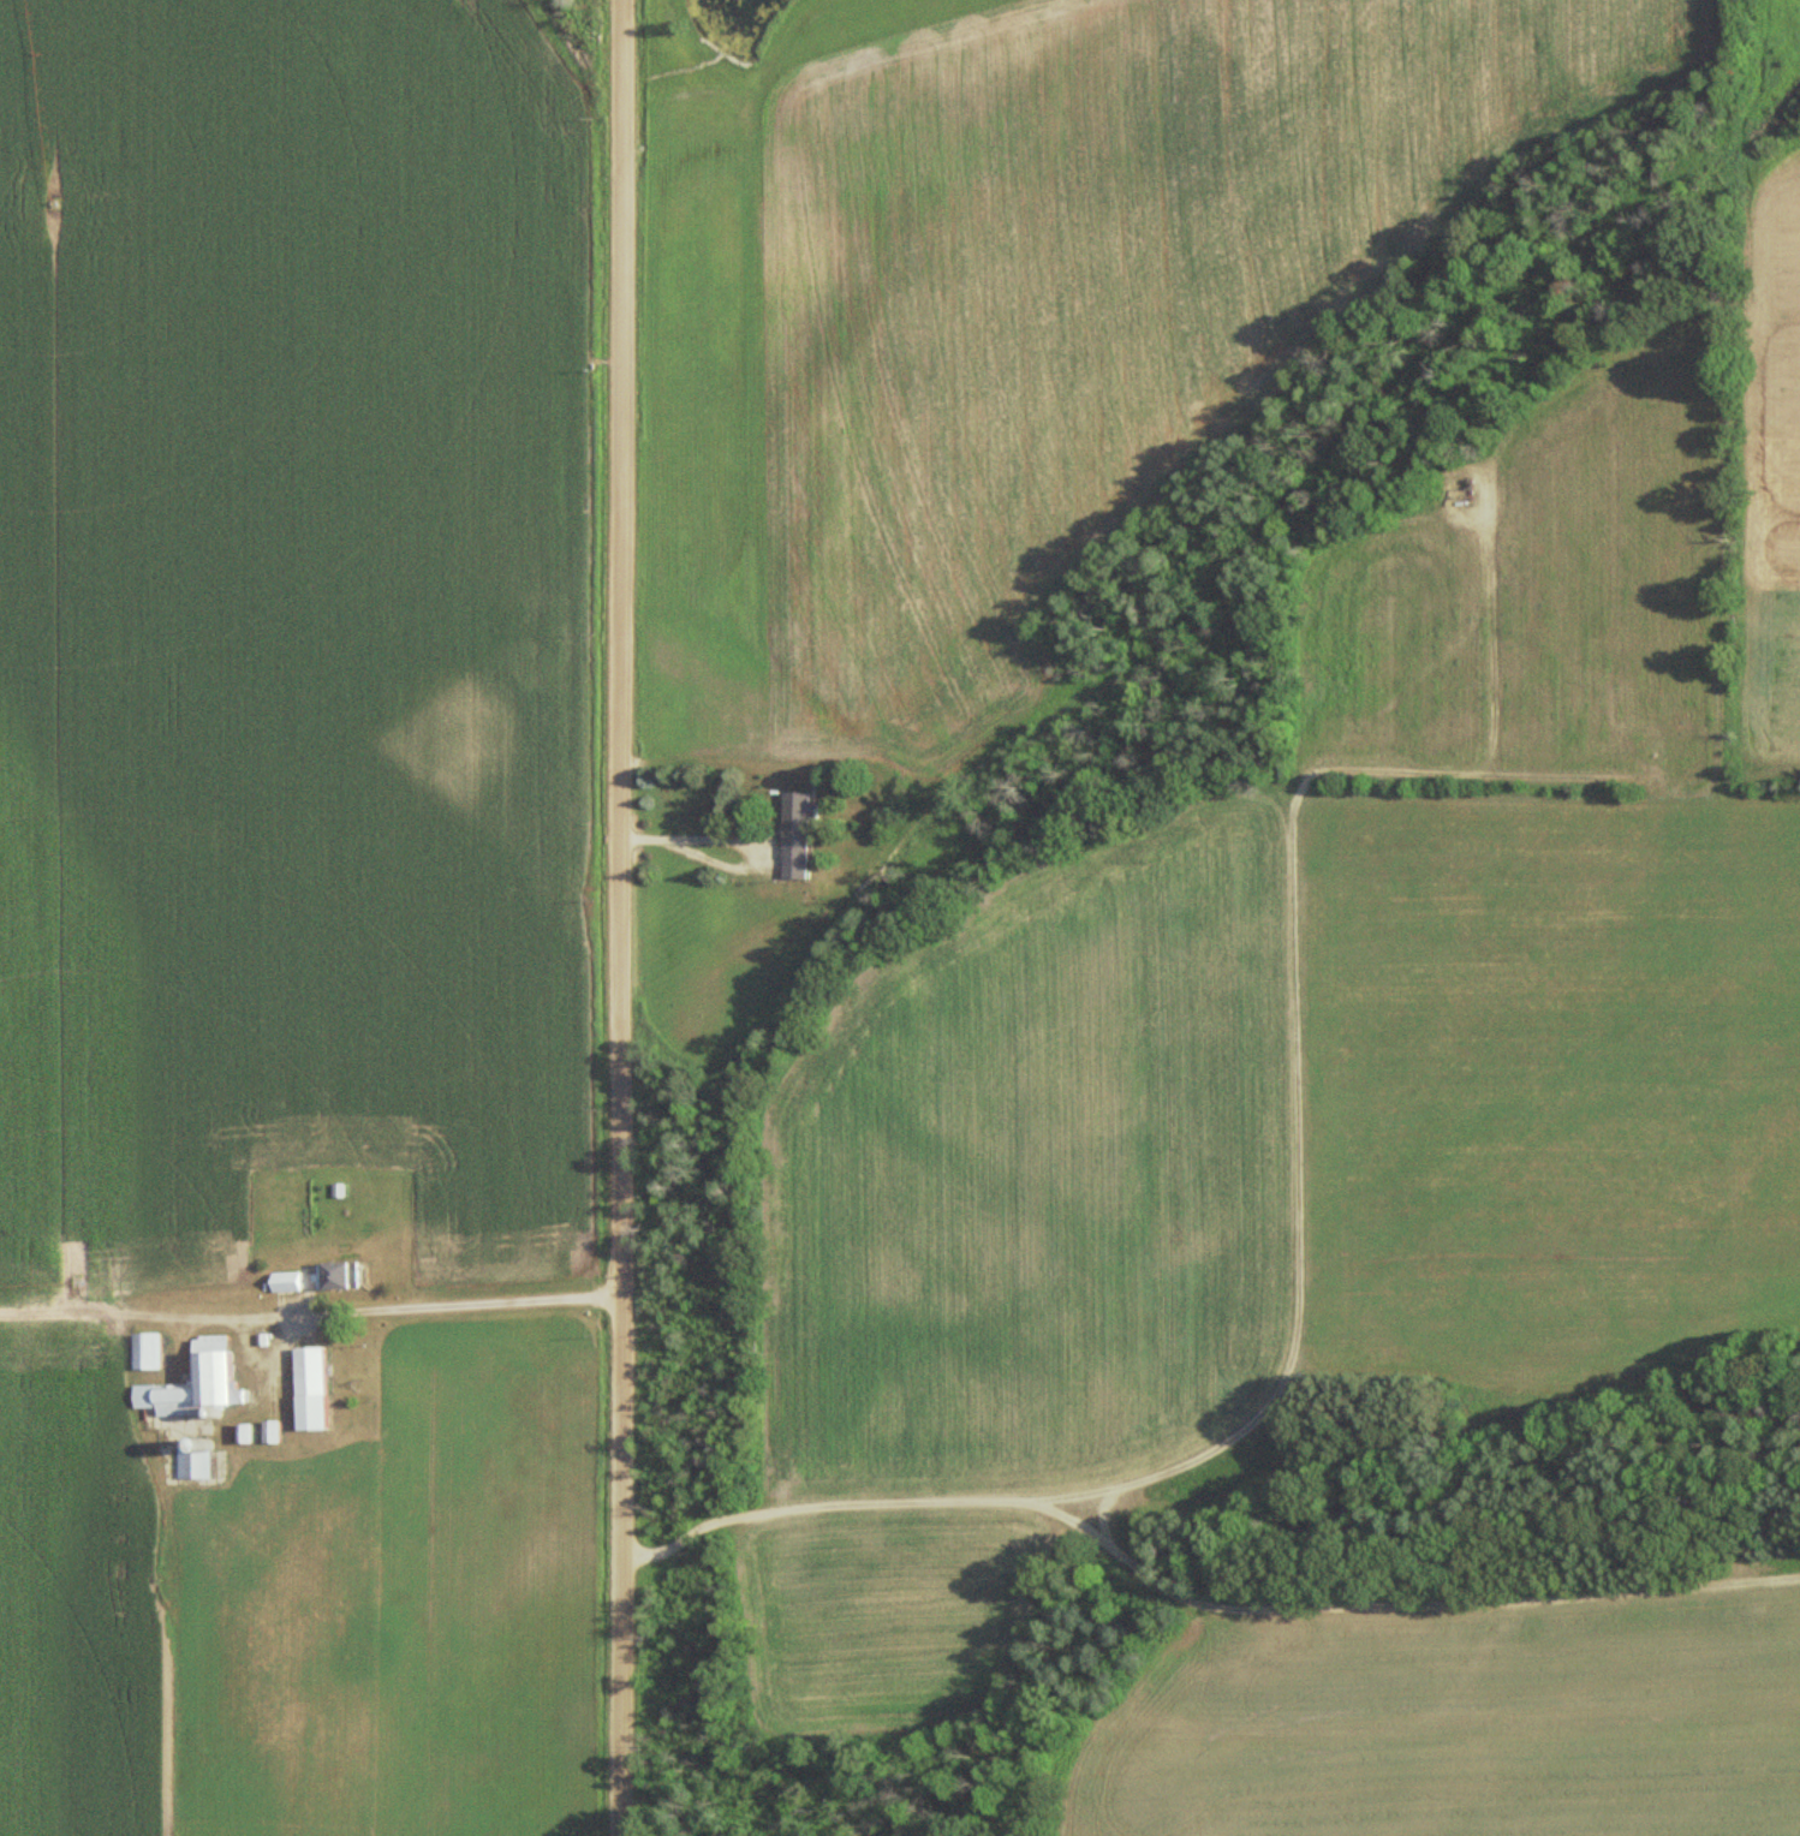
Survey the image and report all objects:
petroleum well: (1471, 496)
building: (804, 834)
road: (735, 840)
road: (607, 918)
road: (1301, 1215)
building: (345, 1275)
building: (288, 1283)
road: (458, 1303)
building: (151, 1352)
building: (219, 1361)
building: (318, 1389)
building: (274, 1432)
building: (191, 1461)
road: (1077, 1495)
road: (1193, 1604)
road: (1516, 1719)

